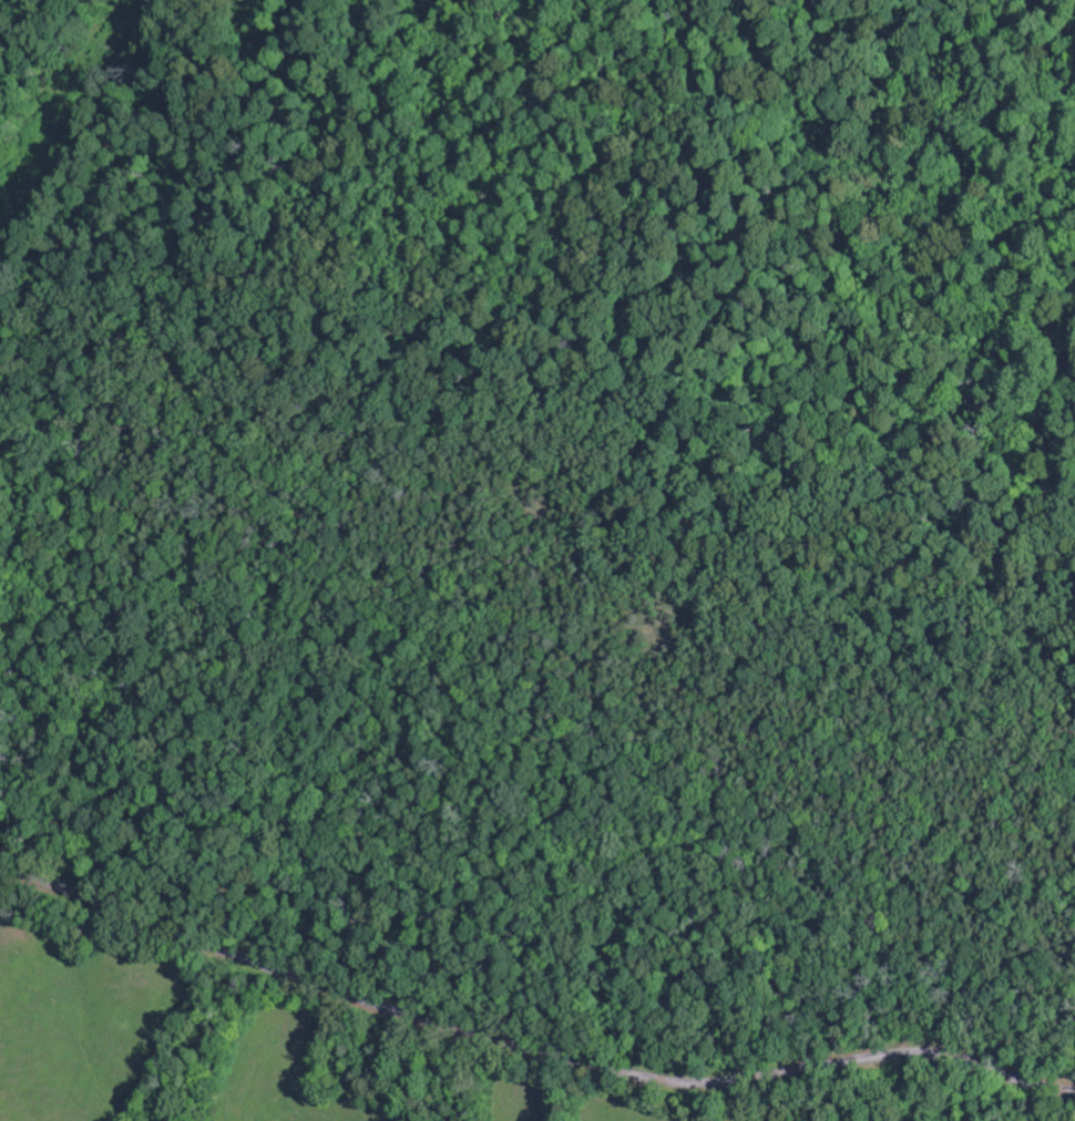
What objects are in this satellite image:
road: (525, 1050)

